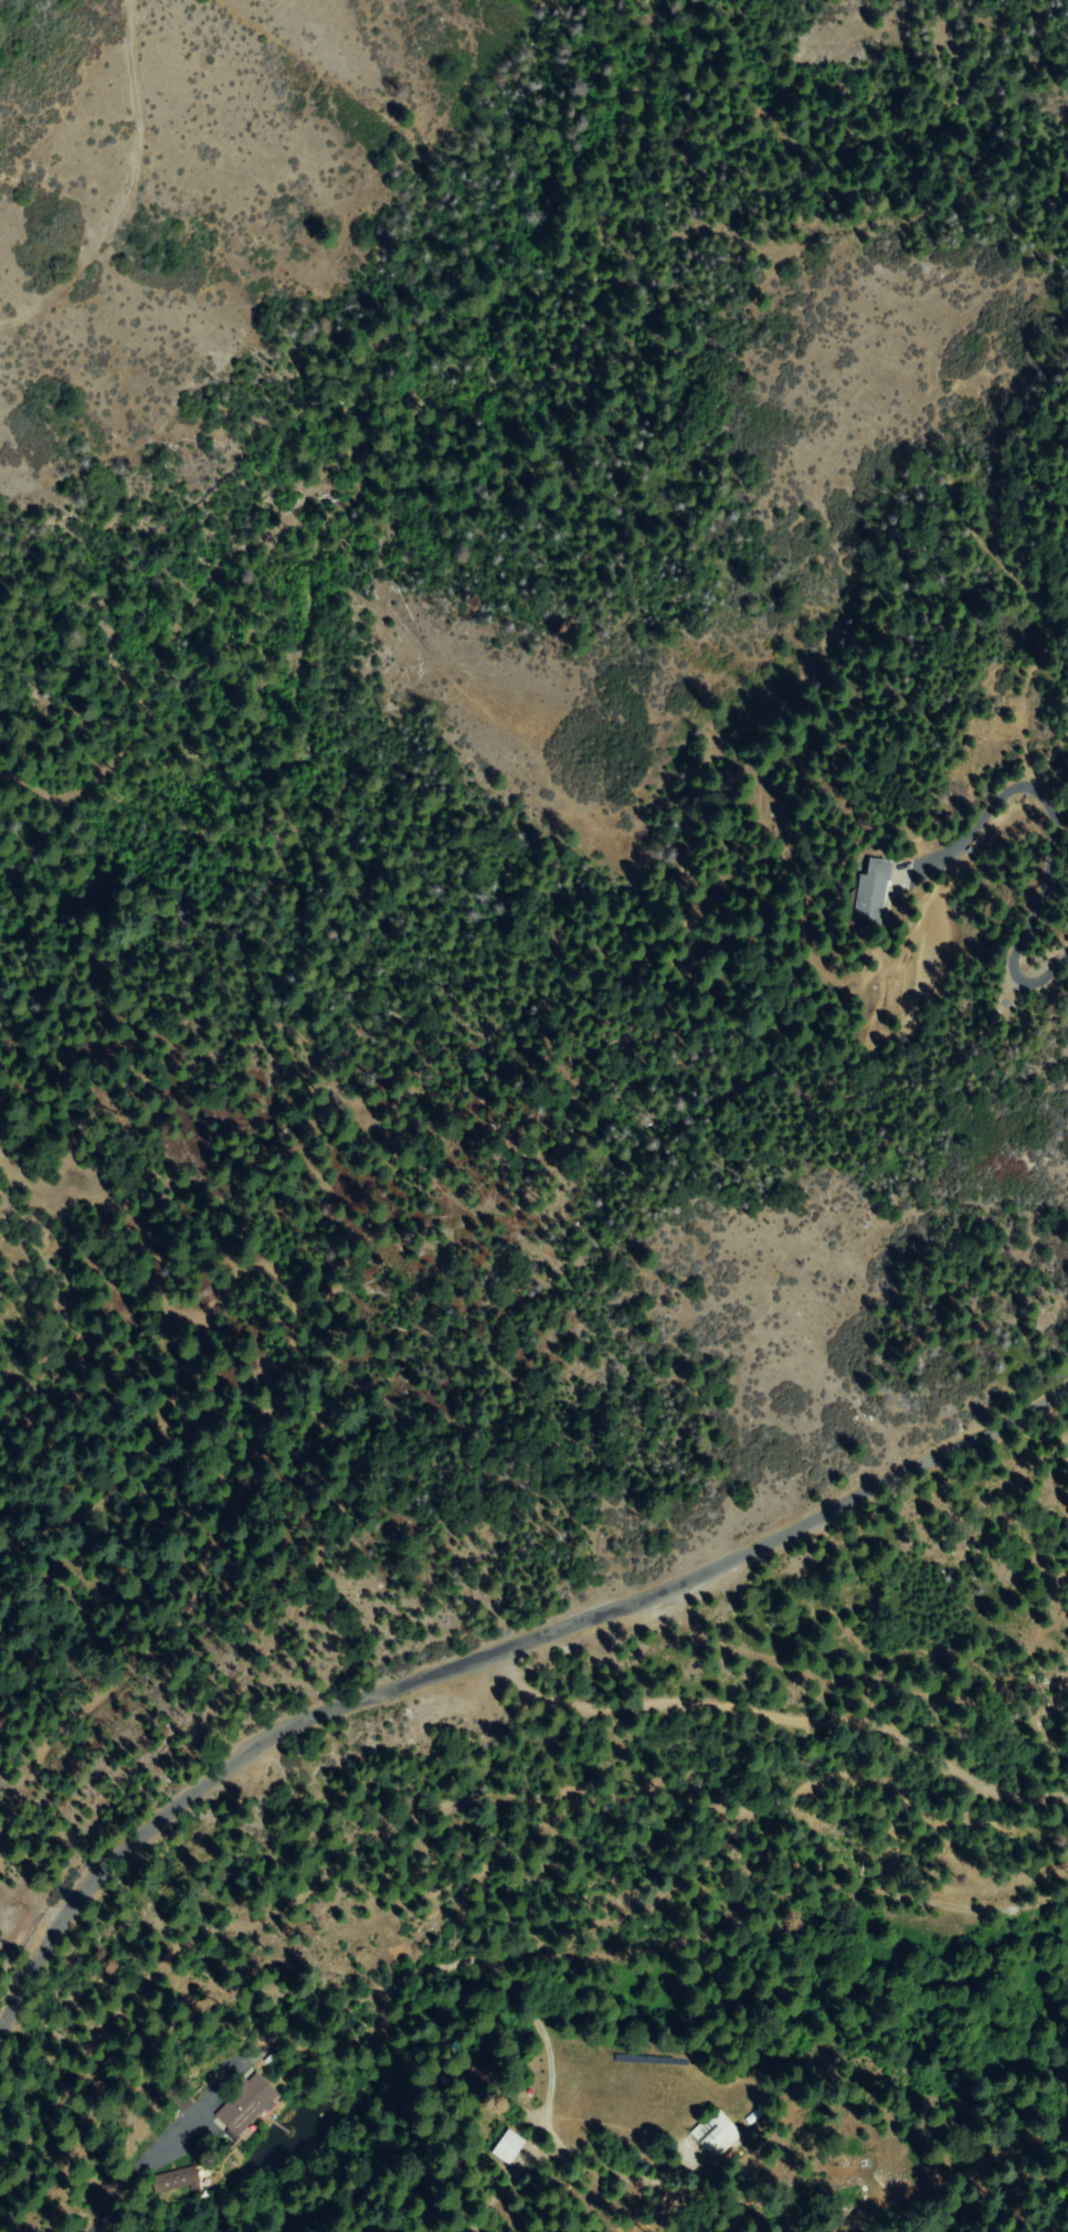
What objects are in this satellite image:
road: (98, 152)
road: (138, 512)
building: (870, 892)
road: (493, 1658)
building: (459, 2053)
building: (245, 2106)
building: (754, 2116)
building: (717, 2135)
building: (509, 2148)
building: (176, 2180)

